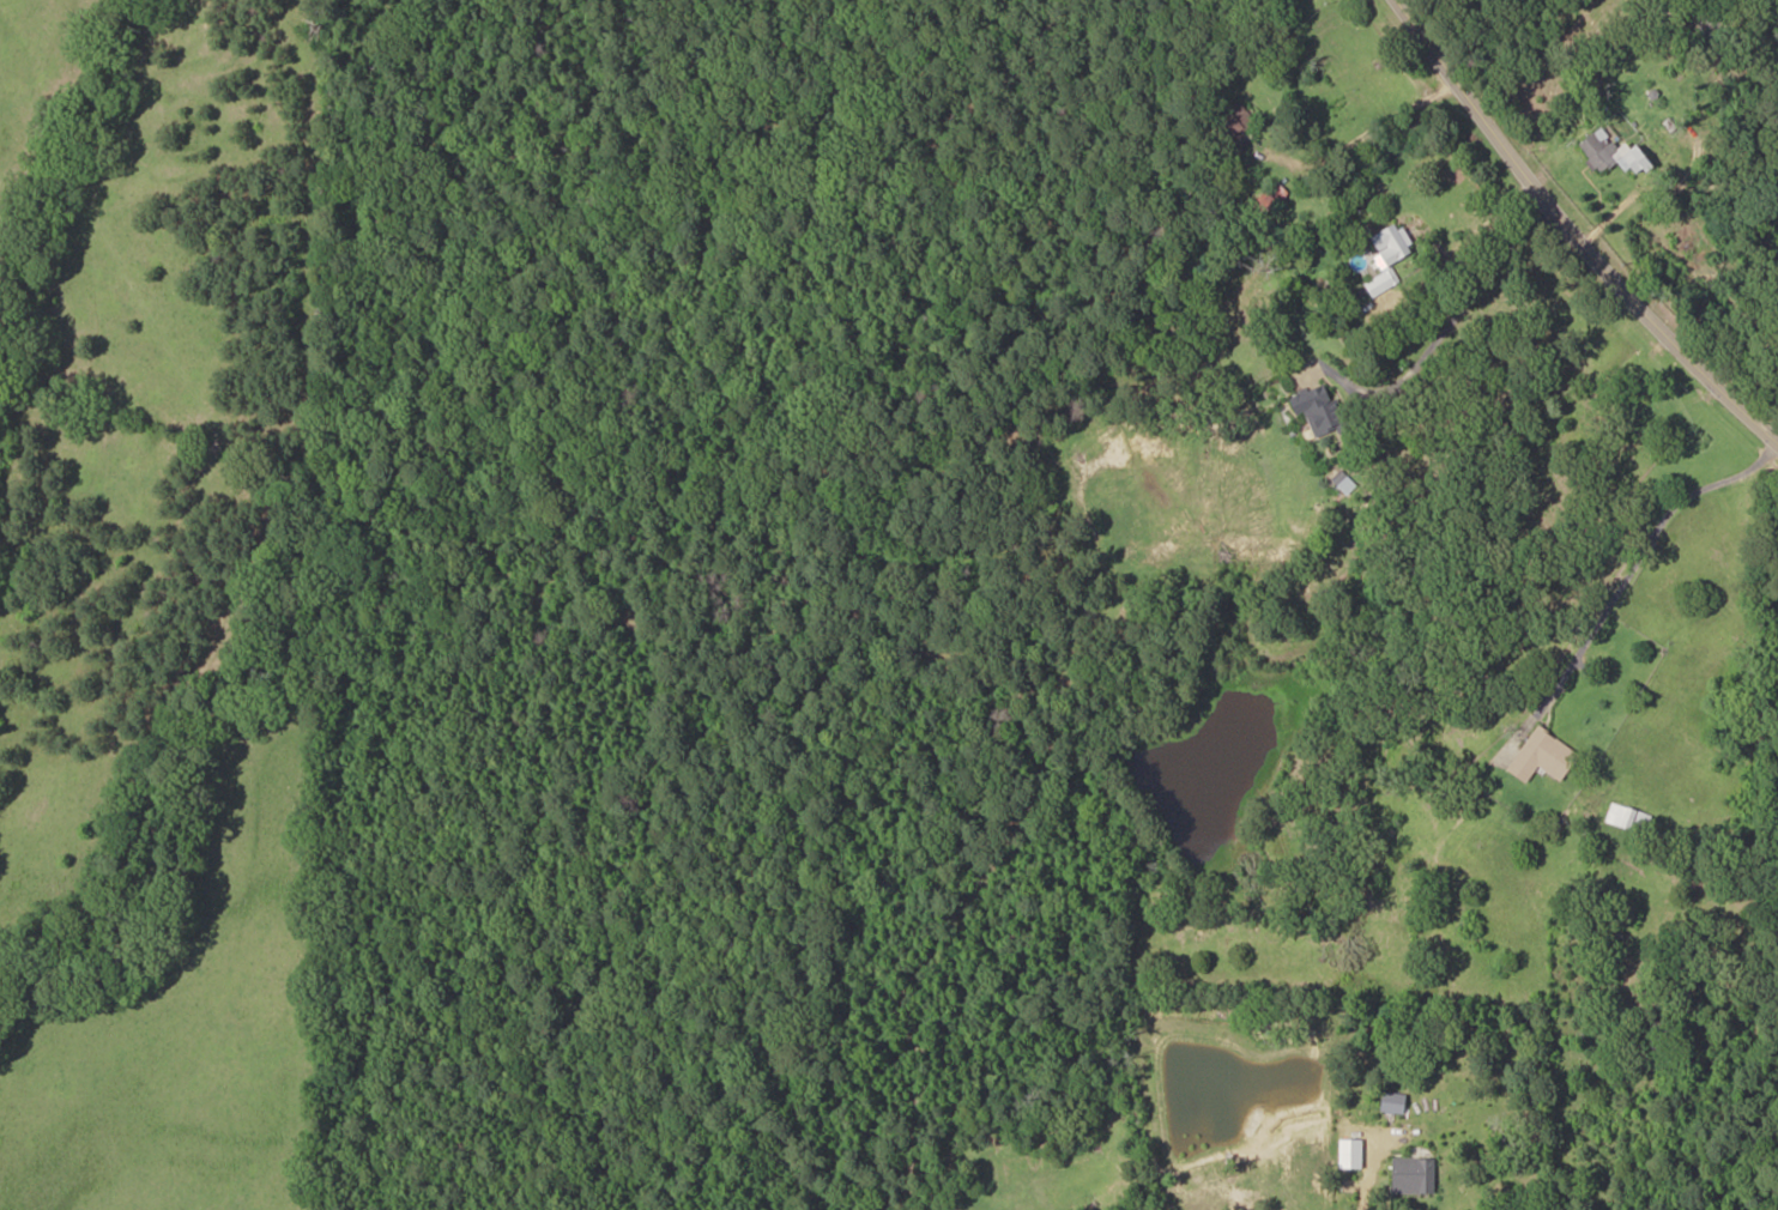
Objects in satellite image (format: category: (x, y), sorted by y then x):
building: (1717, 18)
building: (1238, 128)
building: (1611, 152)
building: (1272, 198)
road: (1599, 198)
building: (1390, 255)
building: (1318, 410)
road: (1631, 478)
building: (1542, 755)
building: (1625, 817)
road: (67, 954)

